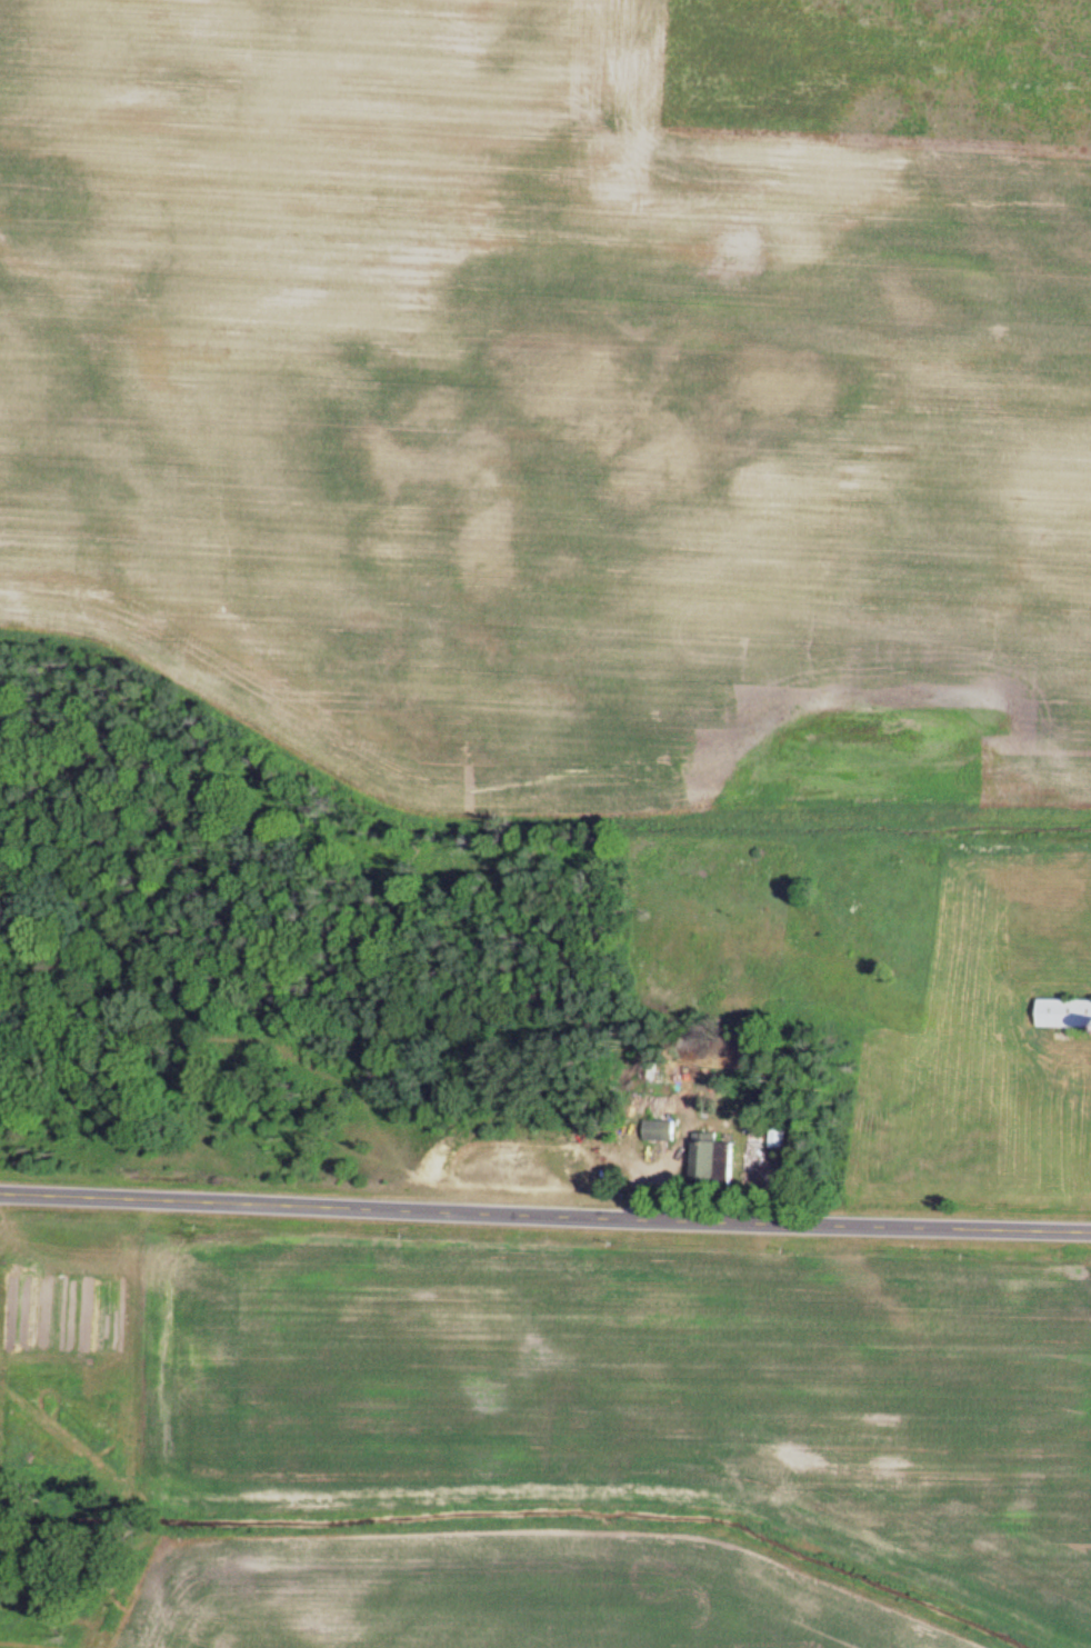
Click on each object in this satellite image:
building: (1067, 1017)
building: (663, 1133)
building: (718, 1162)
road: (544, 1216)

